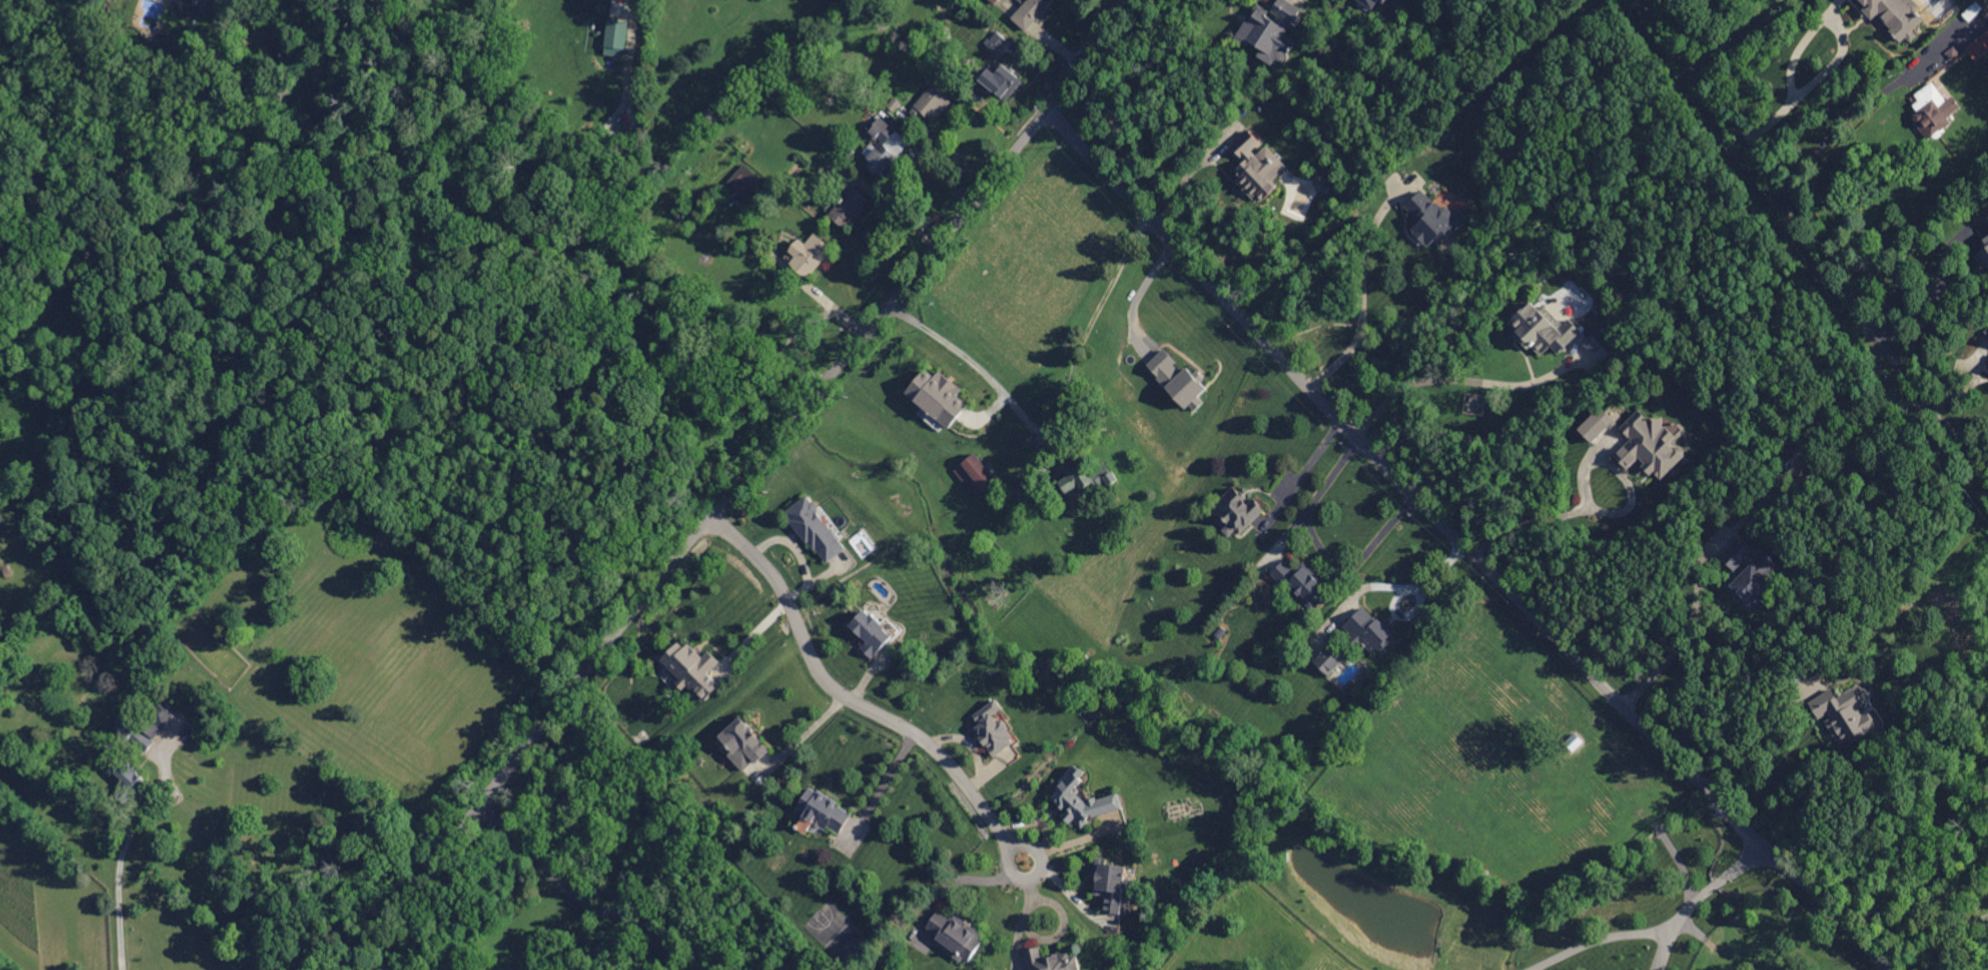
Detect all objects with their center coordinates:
building: (196, 1)
building: (993, 1)
building: (1383, 1)
building: (1370, 2)
building: (1030, 12)
building: (1895, 15)
building: (1270, 29)
road: (1739, 36)
building: (996, 40)
building: (1978, 45)
road: (1839, 50)
building: (1001, 80)
building: (933, 101)
road: (1862, 103)
building: (1932, 109)
building: (881, 150)
building: (1257, 166)
road: (1191, 172)
building: (748, 182)
building: (1321, 182)
building: (847, 205)
building: (1432, 218)
building: (1984, 247)
road: (1822, 250)
building: (808, 253)
road: (1941, 280)
road: (1141, 287)
road: (1363, 294)
road: (825, 302)
building: (1542, 328)
building: (1987, 333)
road: (1080, 348)
road: (965, 355)
building: (1177, 377)
road: (1453, 377)
building: (938, 395)
building: (1596, 423)
building: (1650, 444)
building: (974, 474)
road: (1303, 474)
building: (1085, 477)
road: (736, 486)
building: (1237, 511)
road: (1608, 511)
building: (815, 528)
road: (1464, 544)
road: (1324, 546)
building: (1750, 574)
building: (1301, 582)
road: (1419, 602)
building: (1369, 630)
building: (873, 631)
road: (1681, 639)
building: (1329, 658)
building: (692, 668)
road: (837, 690)
building: (1843, 713)
building: (153, 726)
building: (993, 727)
road: (805, 734)
building: (744, 743)
road: (1769, 751)
building: (130, 774)
road: (883, 786)
building: (1082, 799)
road: (1028, 879)
building: (1111, 884)
road: (118, 892)
road: (583, 897)
road: (1697, 897)
building: (955, 935)
road: (1947, 938)
road: (1595, 940)
building: (1051, 960)

